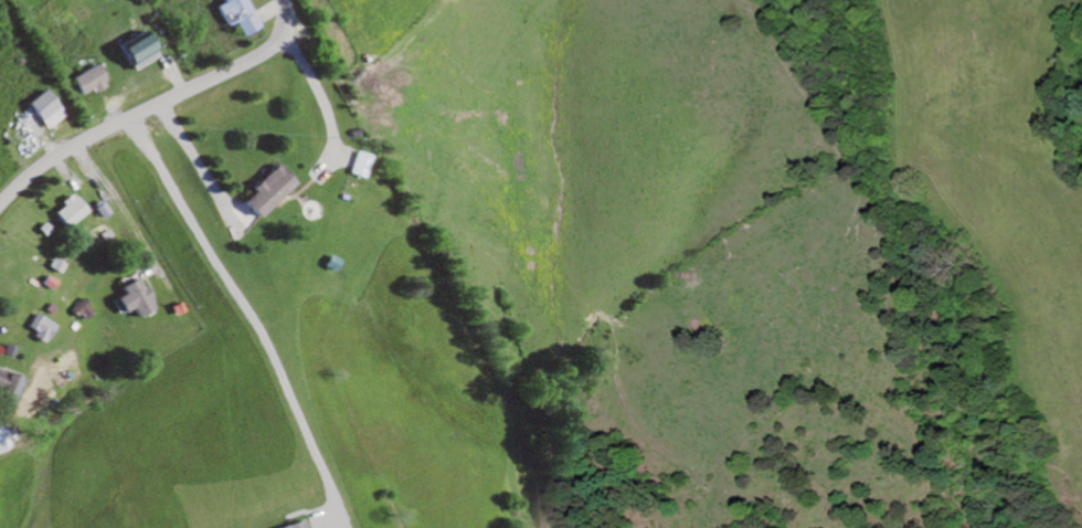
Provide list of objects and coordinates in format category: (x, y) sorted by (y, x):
building: (236, 15)
building: (135, 53)
building: (86, 82)
road: (314, 87)
road: (153, 106)
building: (42, 110)
building: (356, 166)
building: (264, 192)
building: (66, 211)
building: (132, 299)
road: (252, 310)
building: (35, 329)
building: (8, 390)
building: (3, 436)
building: (296, 526)

